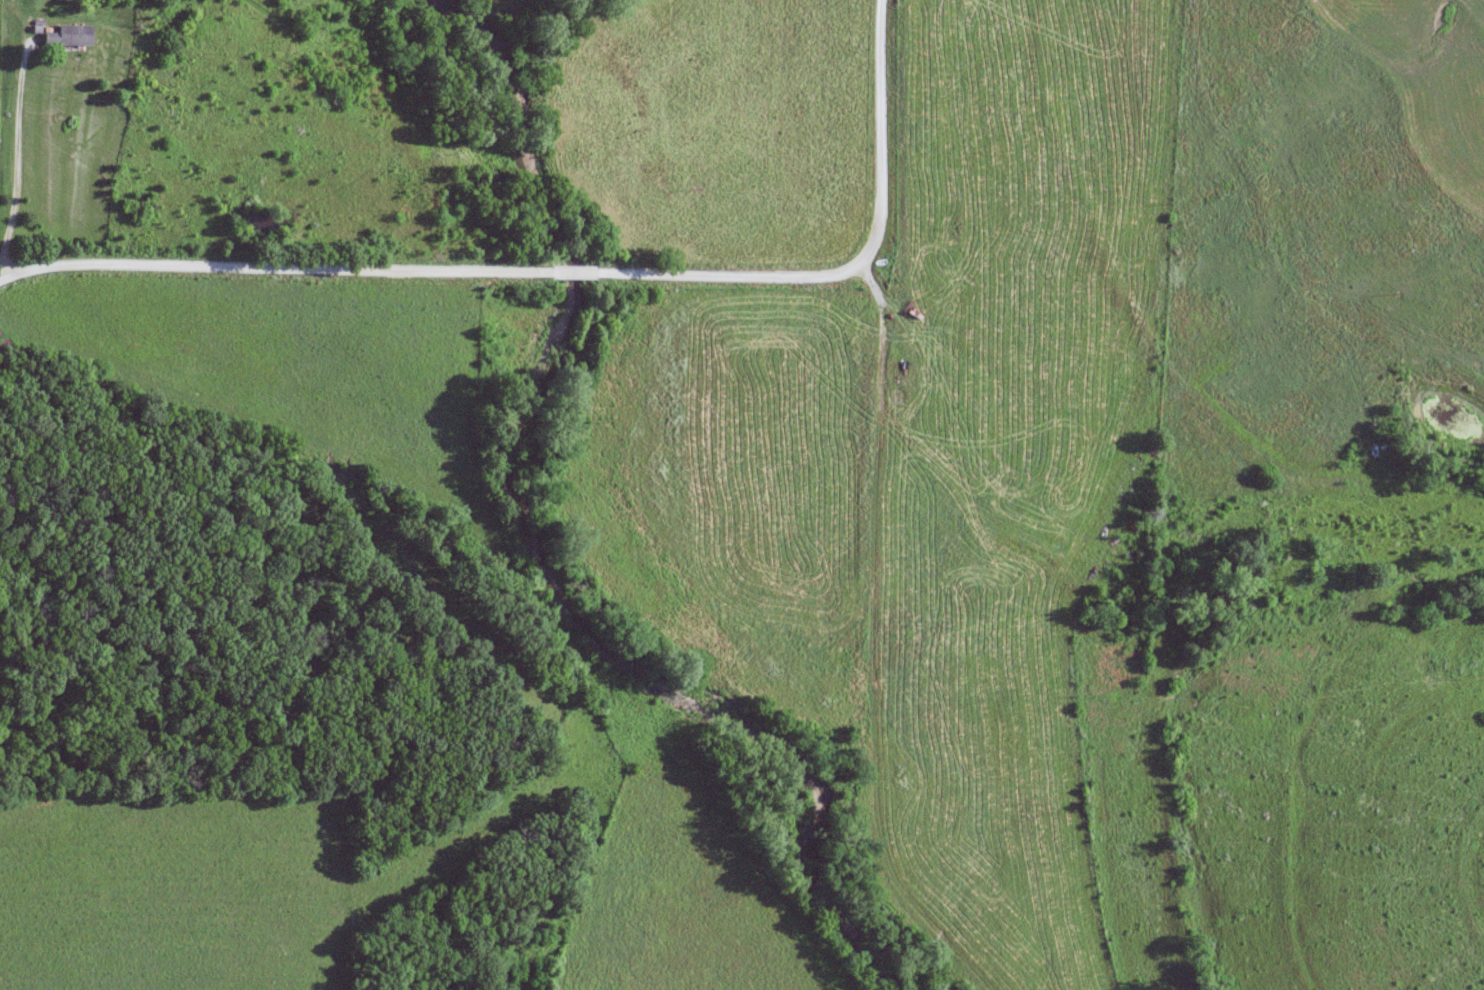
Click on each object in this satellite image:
building: (65, 35)
road: (16, 153)
road: (859, 263)
road: (273, 267)
road: (572, 273)

